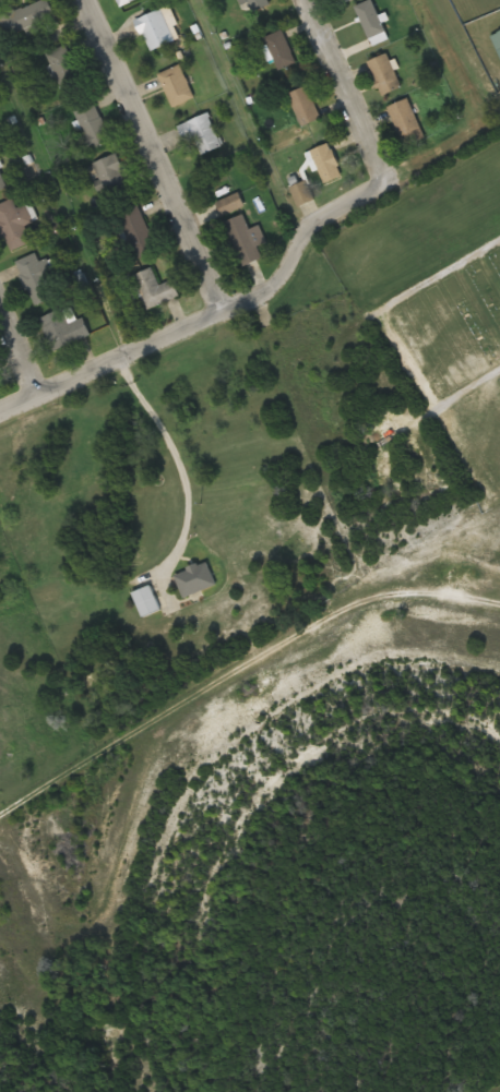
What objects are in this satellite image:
building: (345, 1)
building: (124, 2)
building: (253, 2)
building: (29, 19)
building: (156, 32)
building: (281, 50)
building: (67, 71)
building: (386, 75)
building: (177, 85)
building: (305, 106)
building: (406, 121)
building: (93, 123)
building: (203, 133)
road: (365, 139)
road: (152, 155)
building: (326, 164)
building: (111, 176)
building: (2, 183)
building: (231, 204)
building: (16, 225)
building: (139, 231)
building: (248, 241)
building: (39, 277)
building: (156, 289)
park: (436, 299)
building: (66, 328)
road: (158, 338)
road: (15, 360)
road: (468, 385)
road: (107, 418)
building: (194, 579)
building: (146, 601)
road: (239, 667)

